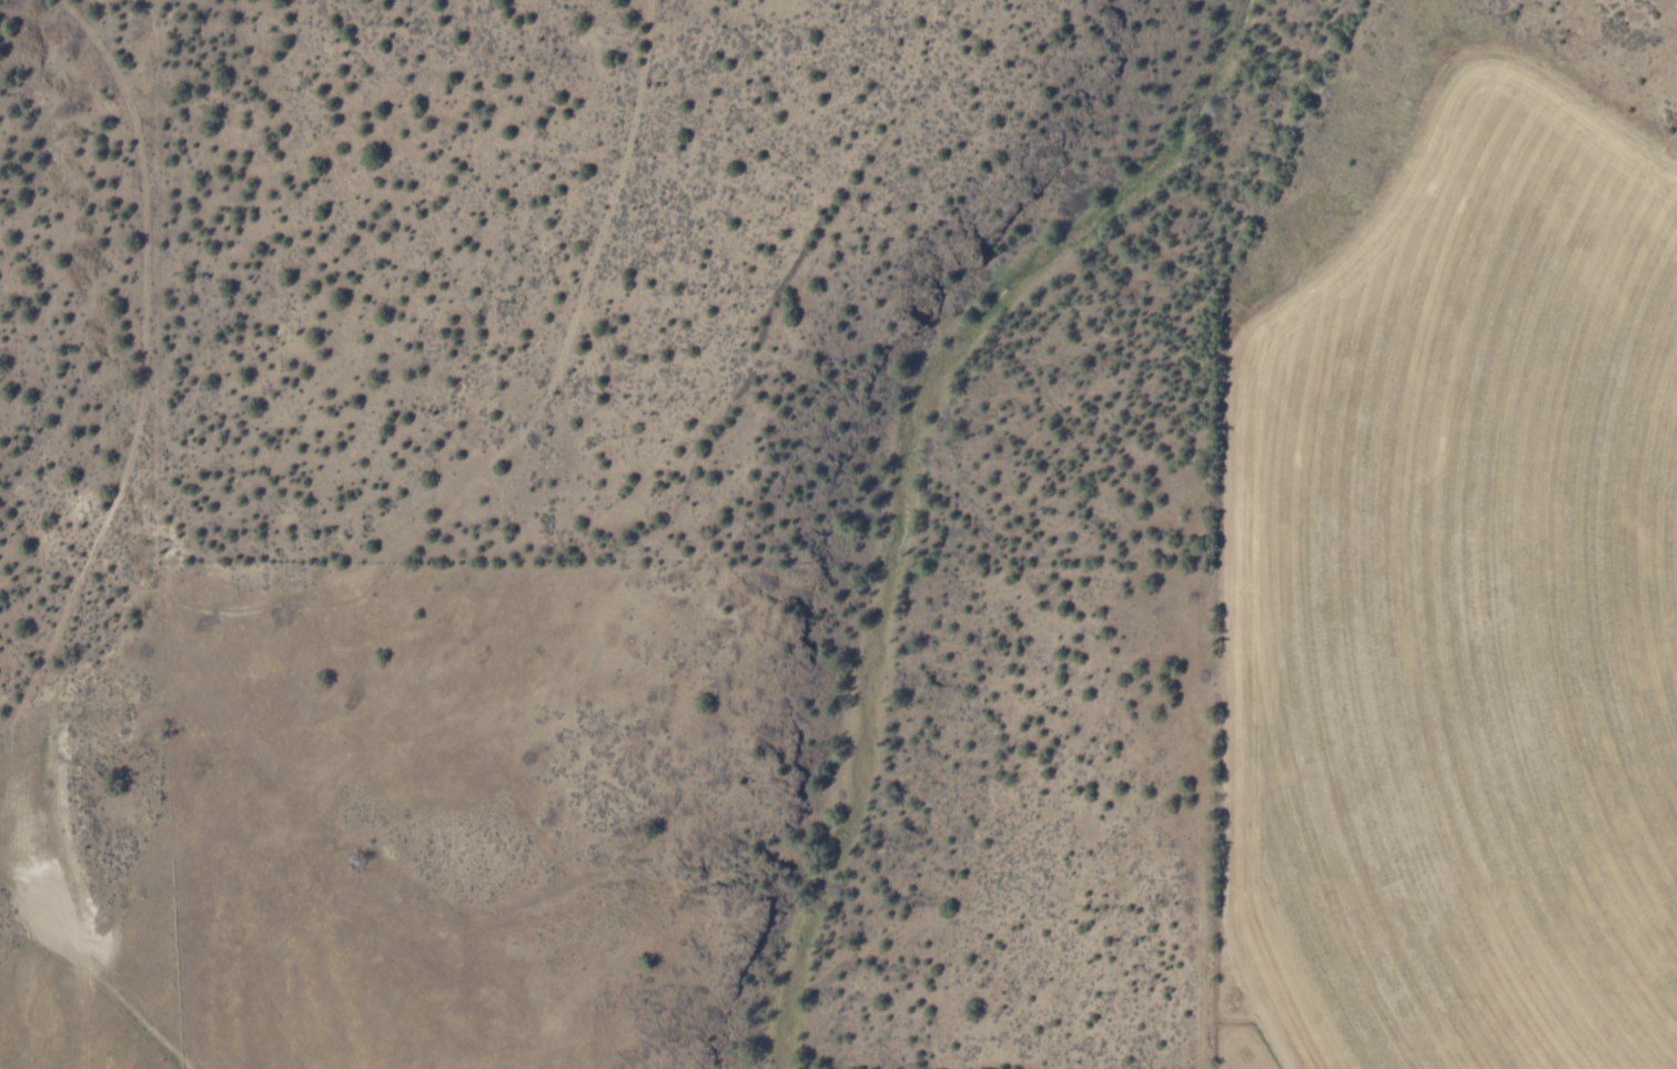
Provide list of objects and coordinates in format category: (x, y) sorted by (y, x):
crop: (1464, 533)

